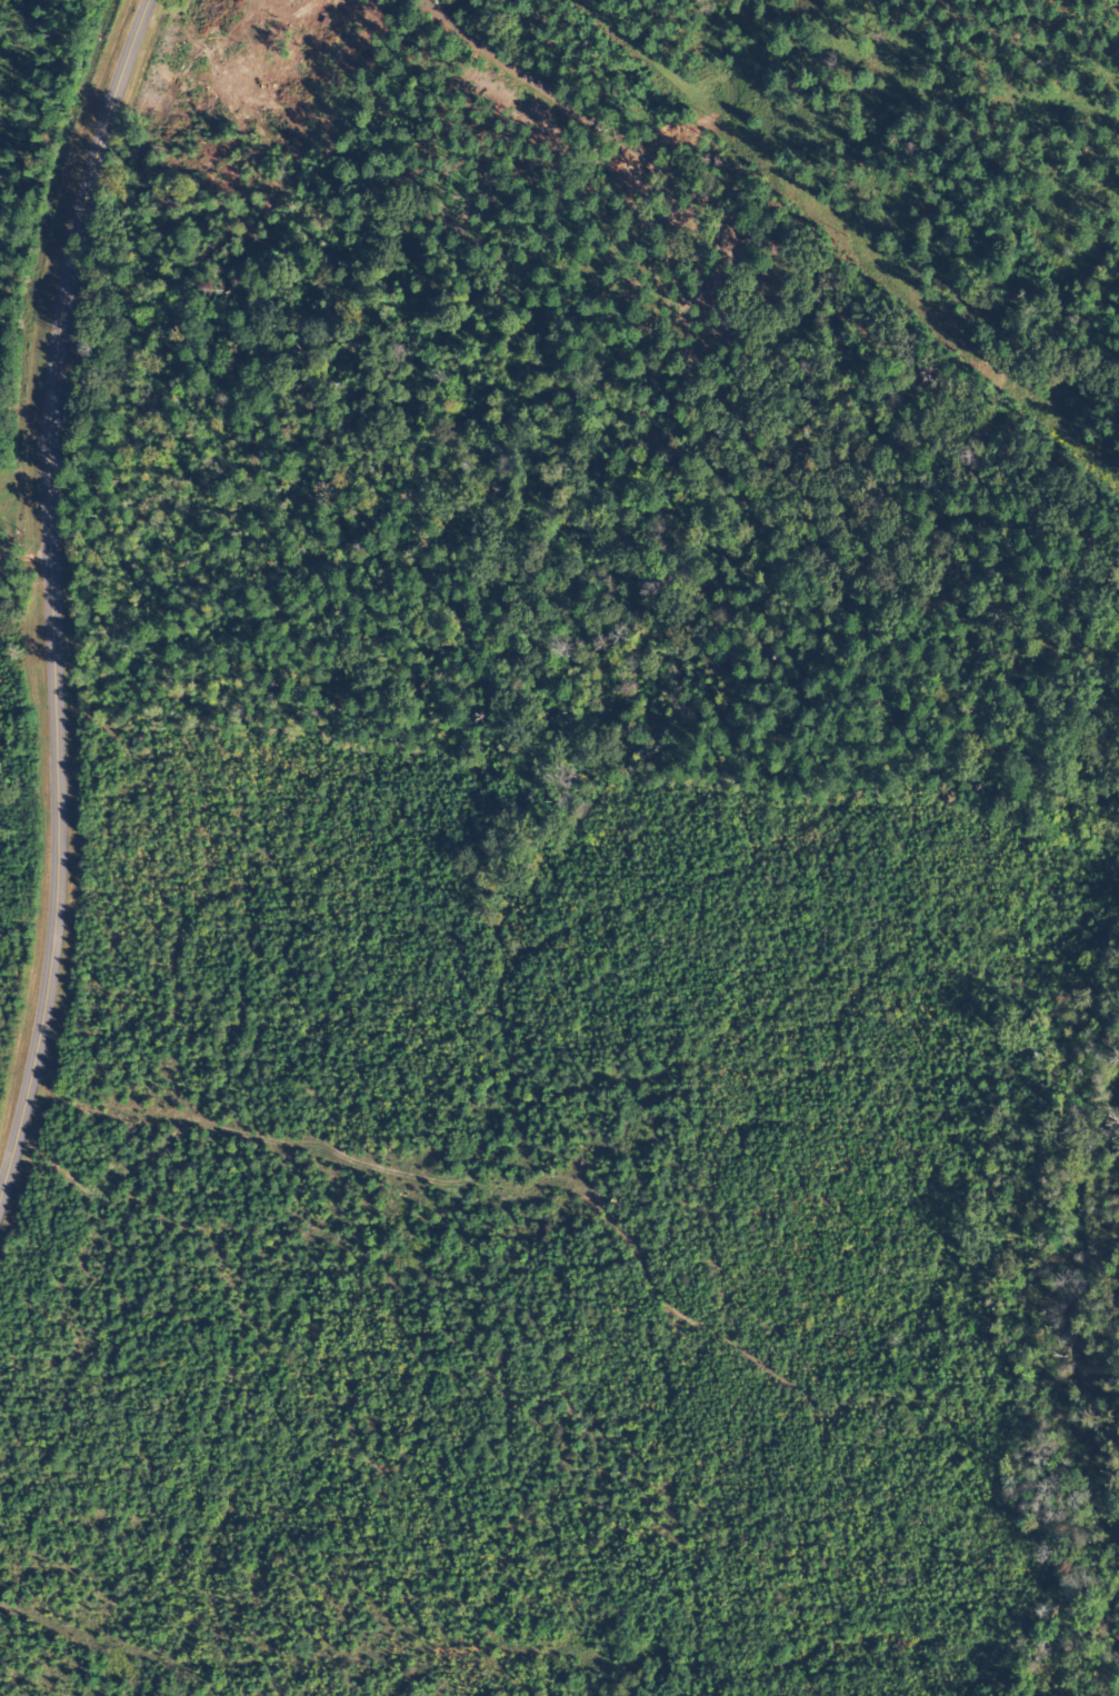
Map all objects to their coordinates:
road: (752, 290)
road: (52, 596)

